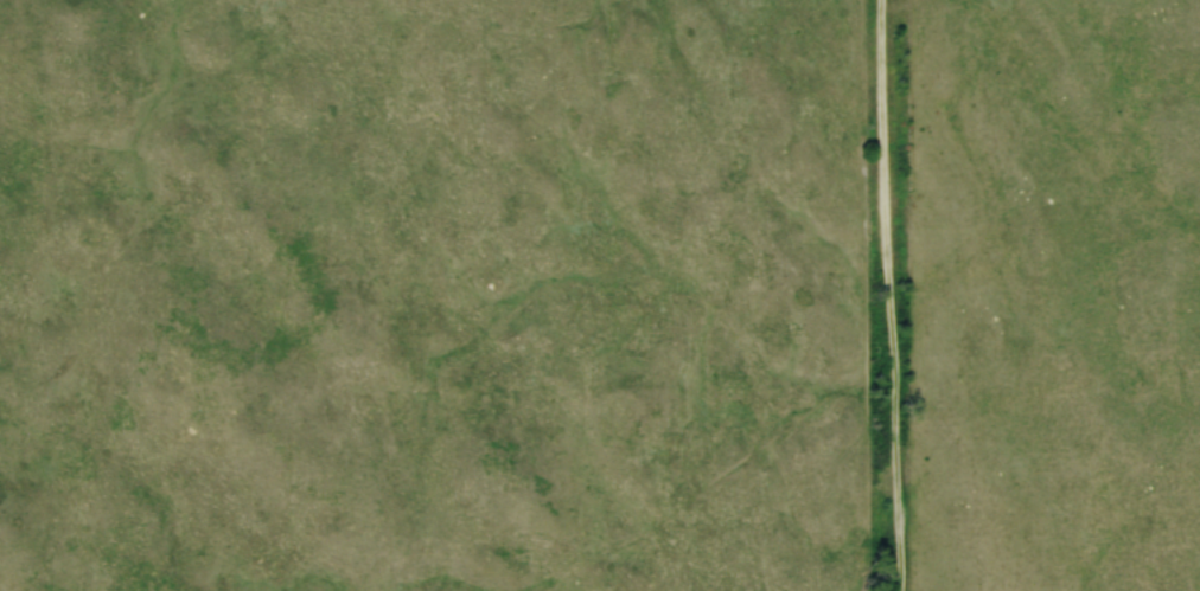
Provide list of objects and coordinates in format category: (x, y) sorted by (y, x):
road: (886, 295)

